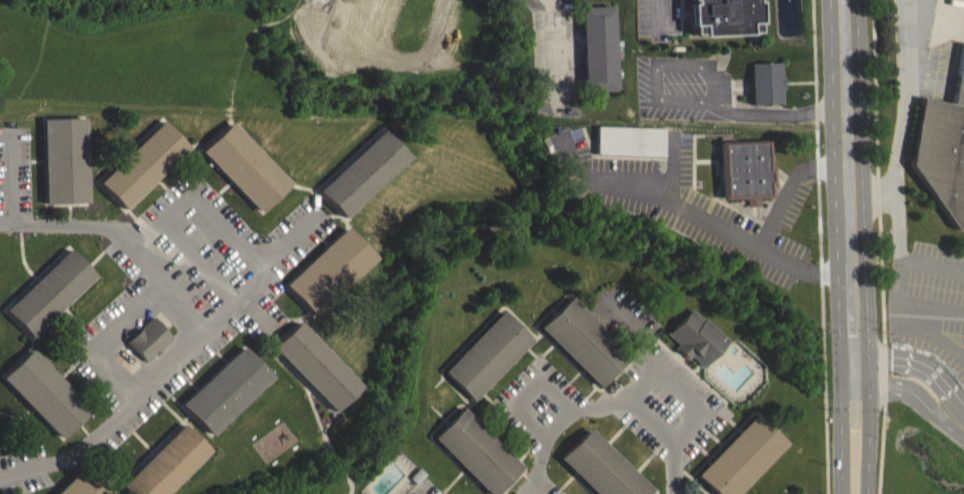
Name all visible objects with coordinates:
building: (722, 15)
road: (657, 16)
parking lot: (657, 18)
building: (597, 45)
parking lot: (938, 45)
road: (555, 52)
road: (657, 65)
building: (766, 80)
parking lot: (683, 87)
road: (785, 114)
road: (901, 130)
building: (628, 139)
building: (942, 151)
building: (65, 158)
building: (144, 163)
building: (246, 164)
building: (364, 171)
road: (11, 176)
building: (743, 181)
road: (865, 191)
road: (655, 193)
road: (762, 232)
road: (227, 237)
road: (289, 245)
road: (820, 246)
road: (837, 246)
road: (863, 246)
building: (329, 268)
road: (171, 287)
building: (50, 290)
road: (898, 298)
road: (931, 306)
road: (233, 310)
road: (262, 315)
traffic signals: (840, 334)
parking lot: (928, 334)
building: (696, 335)
building: (150, 337)
road: (105, 339)
building: (585, 339)
building: (487, 353)
road: (962, 357)
traffic signals: (890, 359)
road: (911, 362)
building: (315, 364)
road: (677, 384)
building: (225, 388)
road: (527, 388)
building: (45, 391)
road: (909, 393)
road: (606, 405)
traffic signals: (866, 413)
building: (479, 451)
park: (920, 454)
building: (739, 455)
building: (165, 463)
building: (600, 470)
building: (81, 484)
parking lot: (427, 489)

